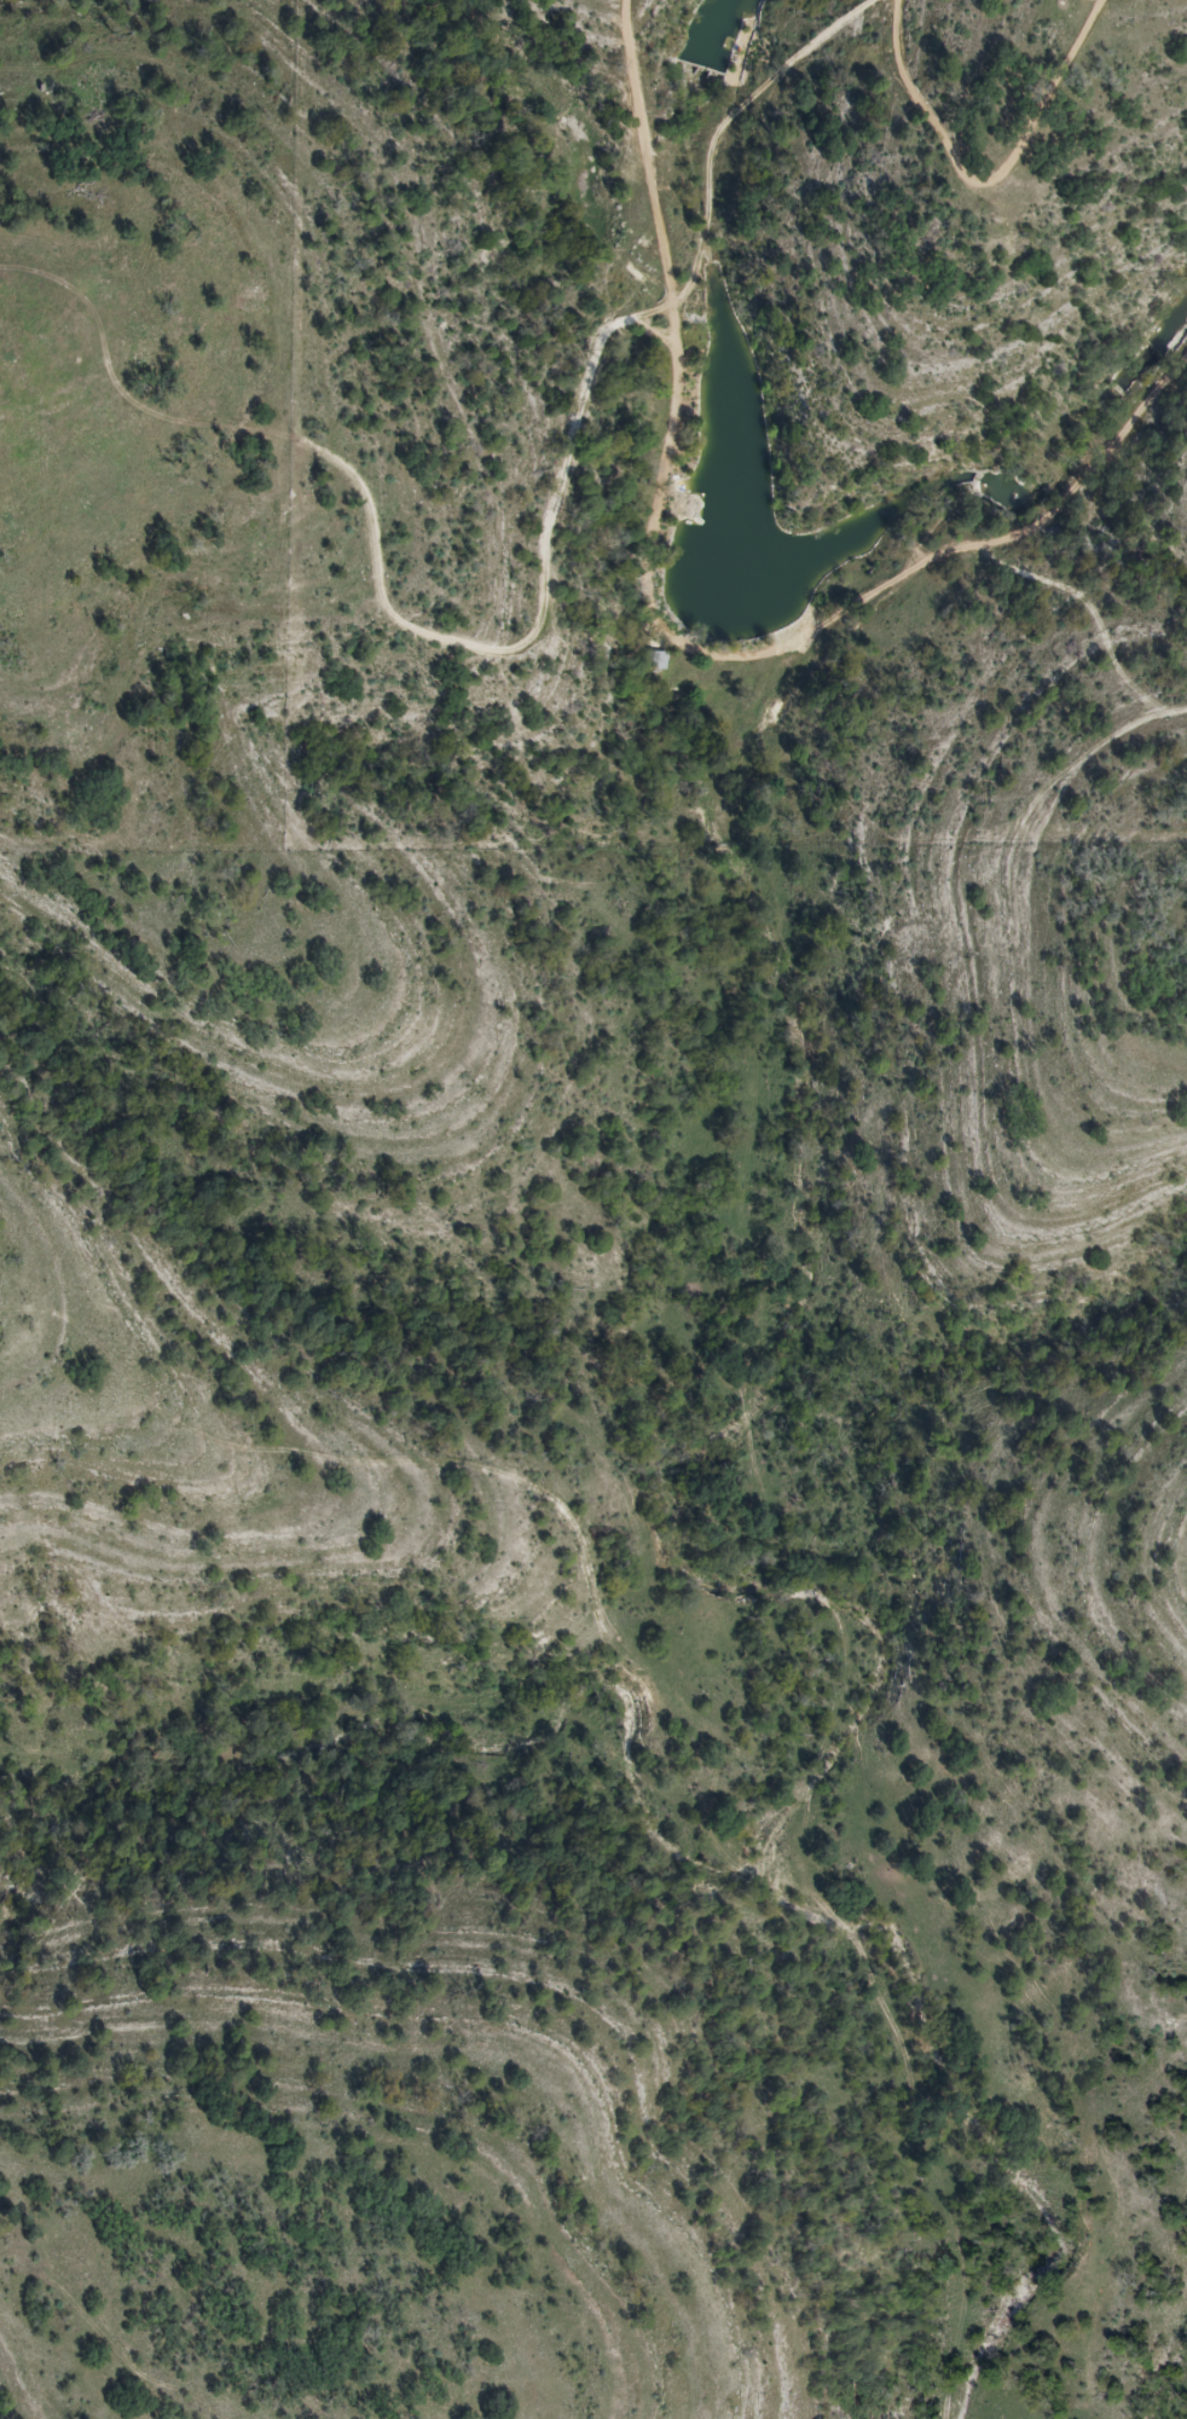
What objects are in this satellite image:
building: (654, 660)

